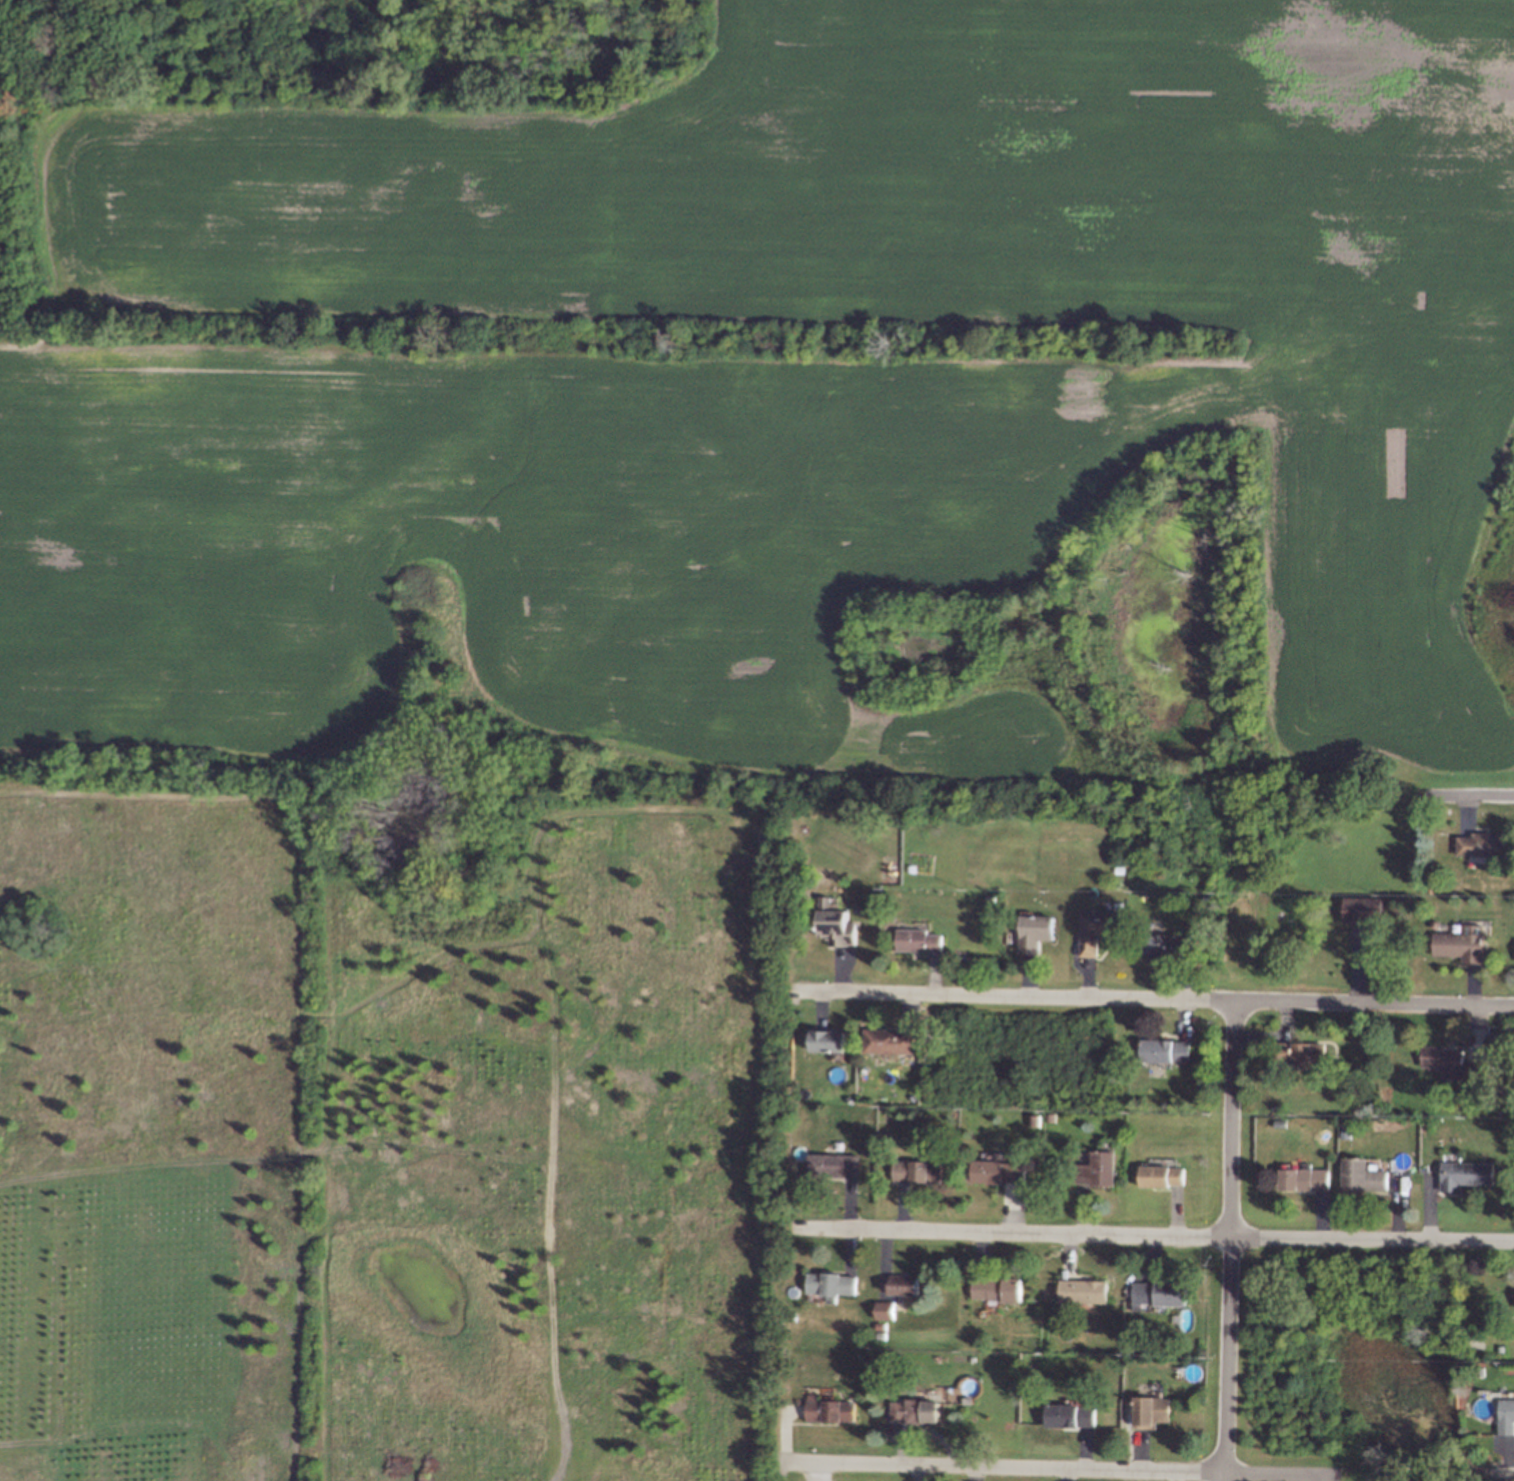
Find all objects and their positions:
crop: (783, 385)
road: (1471, 796)
building: (1478, 843)
building: (1358, 909)
building: (1100, 928)
building: (836, 929)
building: (1035, 931)
building: (917, 942)
building: (1165, 946)
building: (1463, 947)
road: (1013, 996)
road: (1372, 1003)
building: (887, 1040)
building: (827, 1043)
building: (1166, 1051)
building: (1297, 1055)
building: (1441, 1059)
crop: (377, 1143)
building: (832, 1164)
building: (918, 1170)
building: (1000, 1171)
building: (1096, 1171)
building: (1160, 1175)
building: (1467, 1176)
building: (1366, 1178)
building: (1306, 1179)
road: (1156, 1235)
road: (1230, 1241)
building: (829, 1285)
building: (904, 1288)
building: (995, 1289)
building: (1082, 1291)
building: (1159, 1294)
building: (886, 1309)
building: (912, 1410)
building: (1148, 1411)
building: (828, 1412)
building: (1503, 1413)
building: (1068, 1415)
road: (1060, 1466)
road: (1502, 1476)

